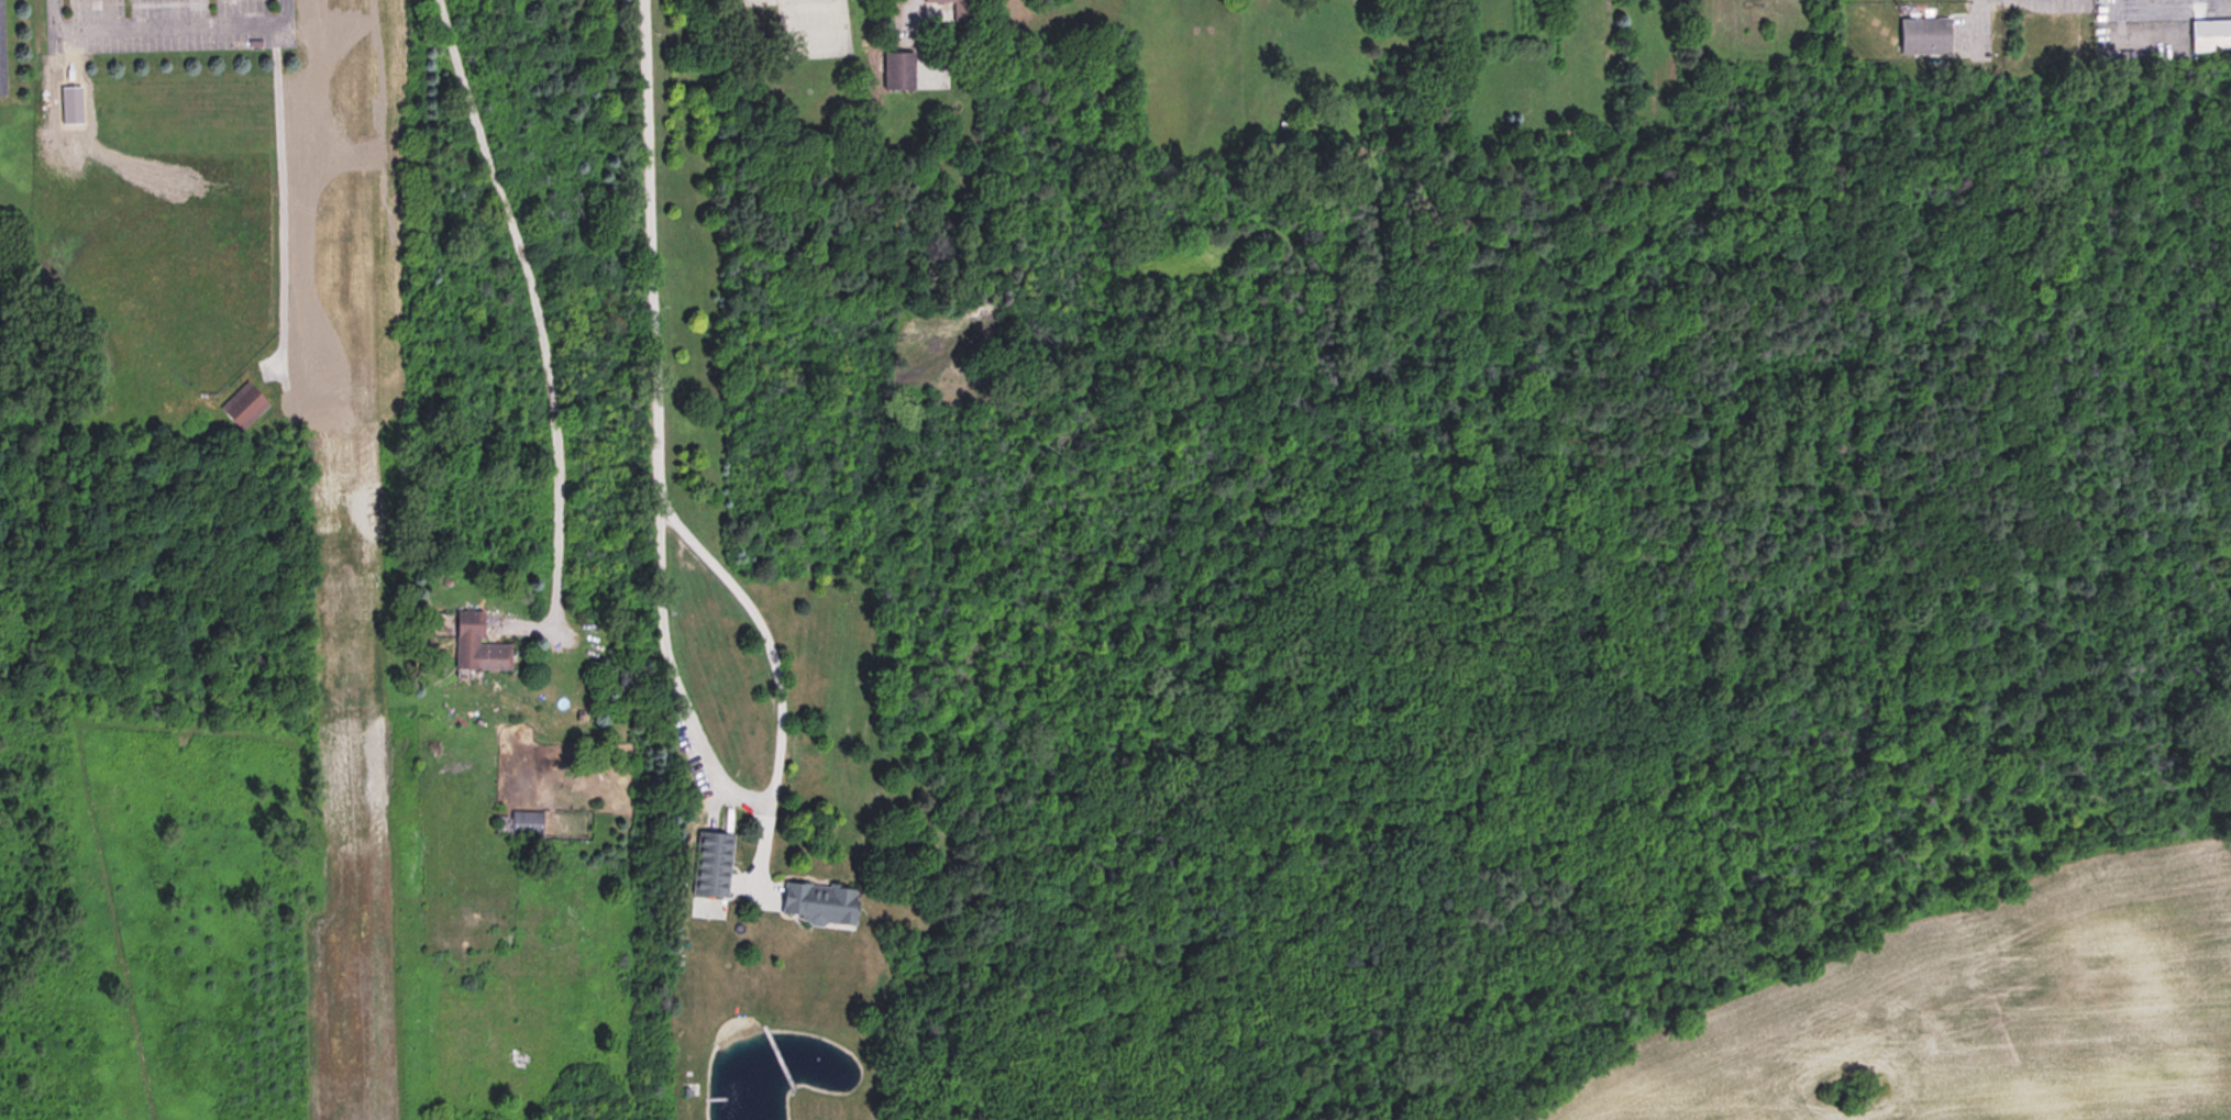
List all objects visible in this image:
road: (2161, 8)
building: (958, 10)
road: (1974, 18)
road: (164, 26)
building: (1924, 35)
building: (2210, 35)
building: (897, 70)
park: (202, 269)
road: (541, 341)
building: (243, 406)
road: (653, 426)
building: (476, 645)
road: (780, 678)
building: (528, 823)
building: (710, 865)
building: (817, 903)

